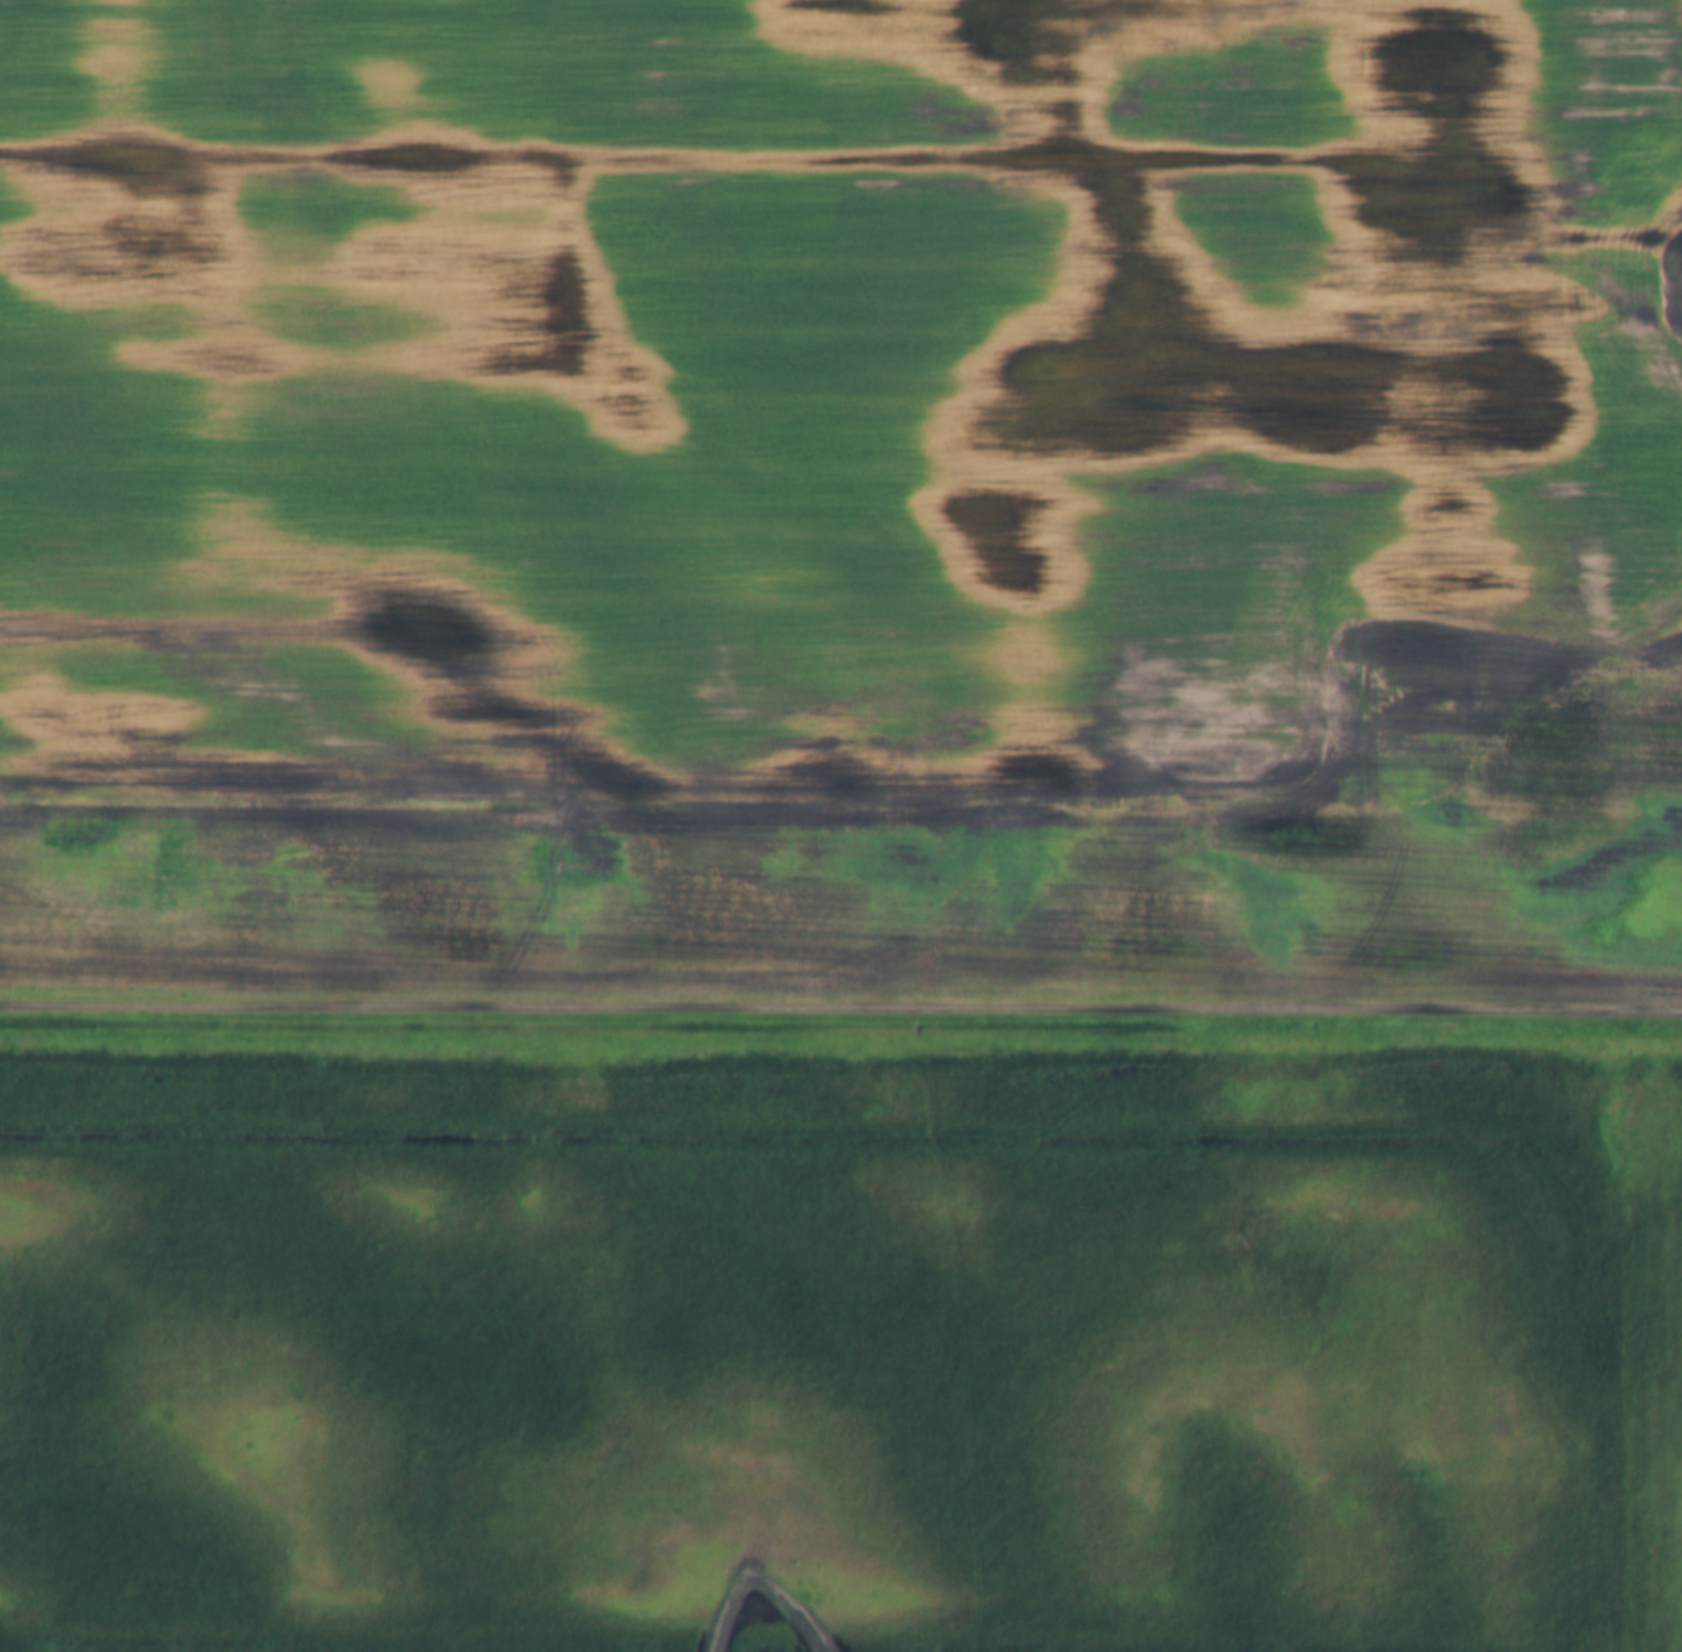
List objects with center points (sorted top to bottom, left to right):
road: (840, 1007)

